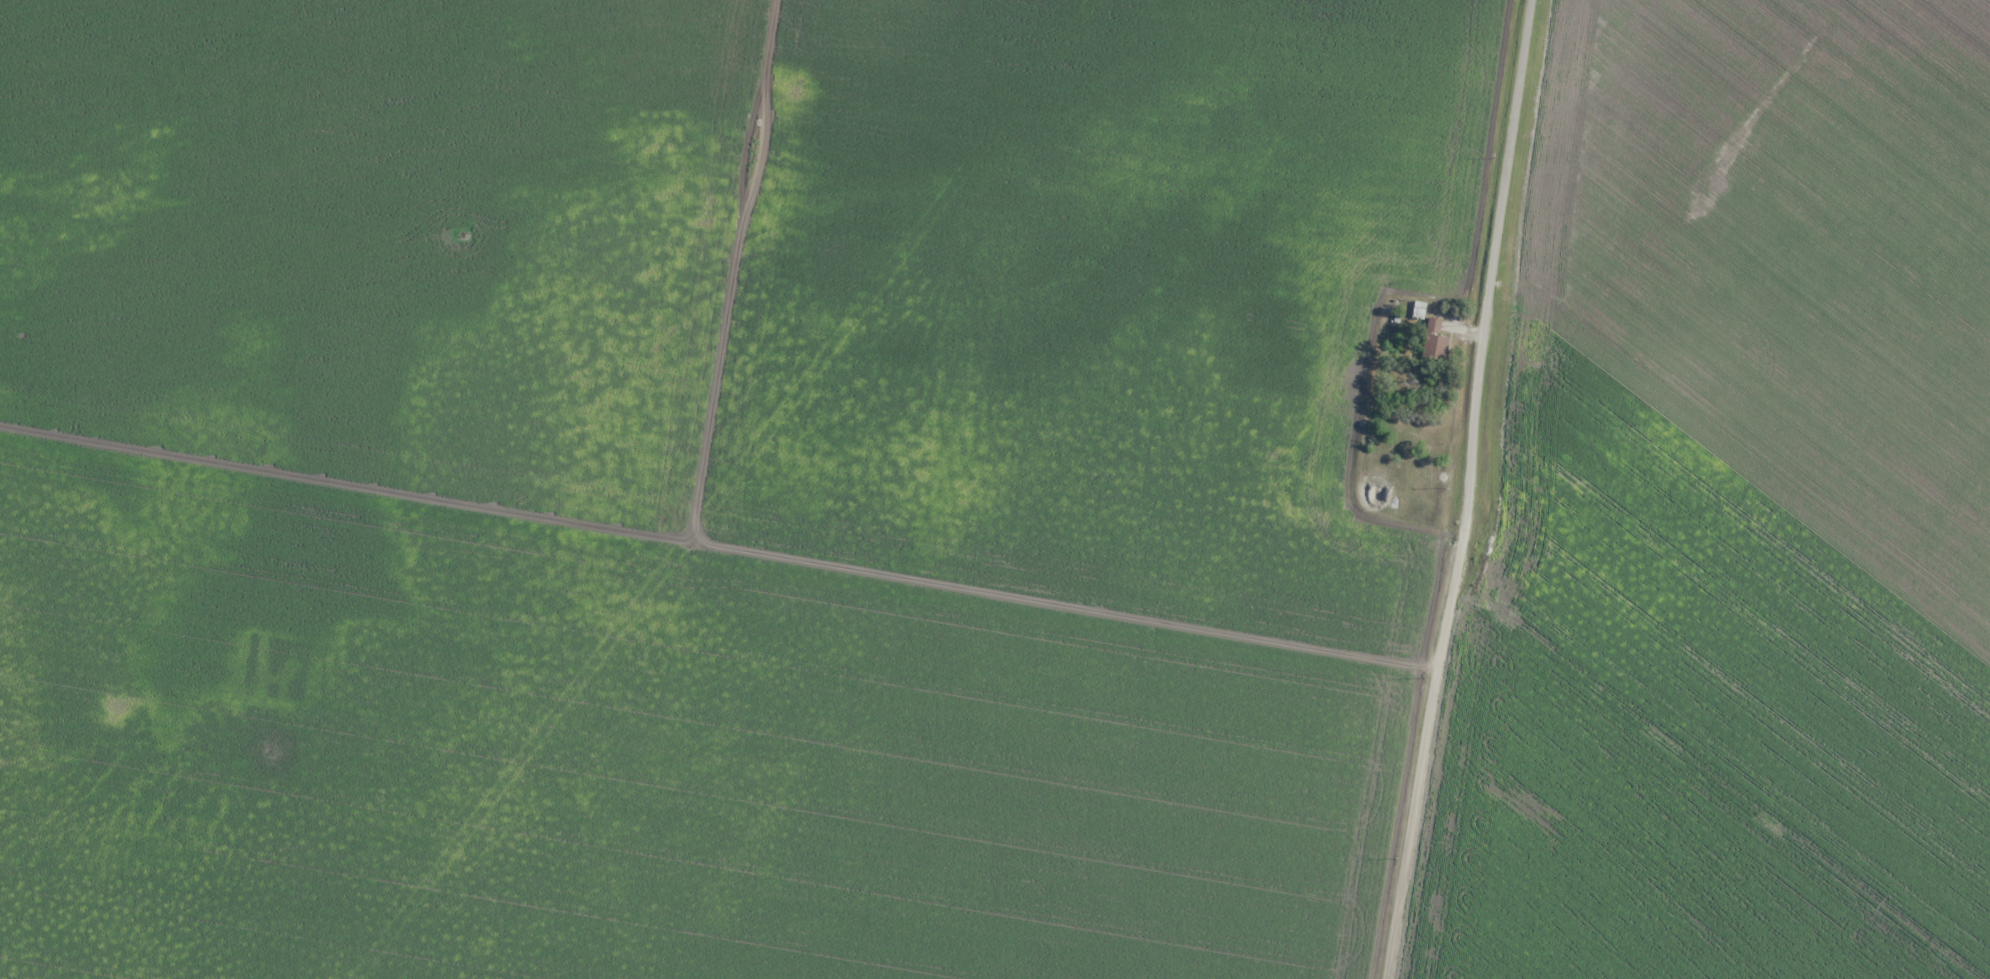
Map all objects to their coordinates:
building: (1434, 344)
road: (1450, 489)
crop: (1729, 514)

